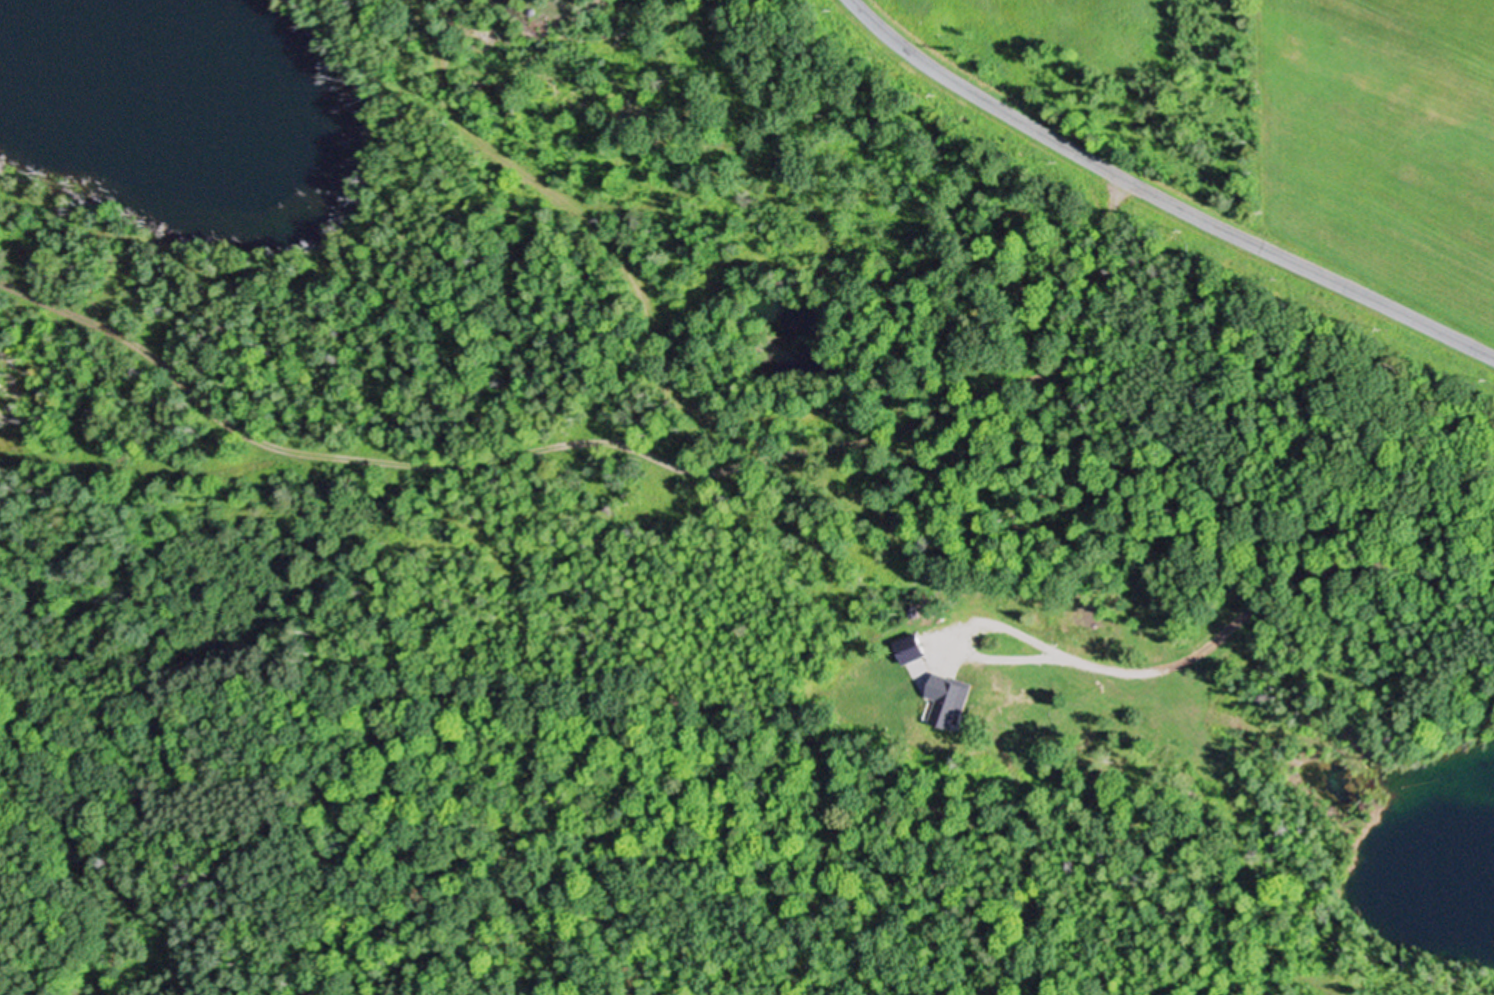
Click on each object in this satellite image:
road: (1162, 197)

